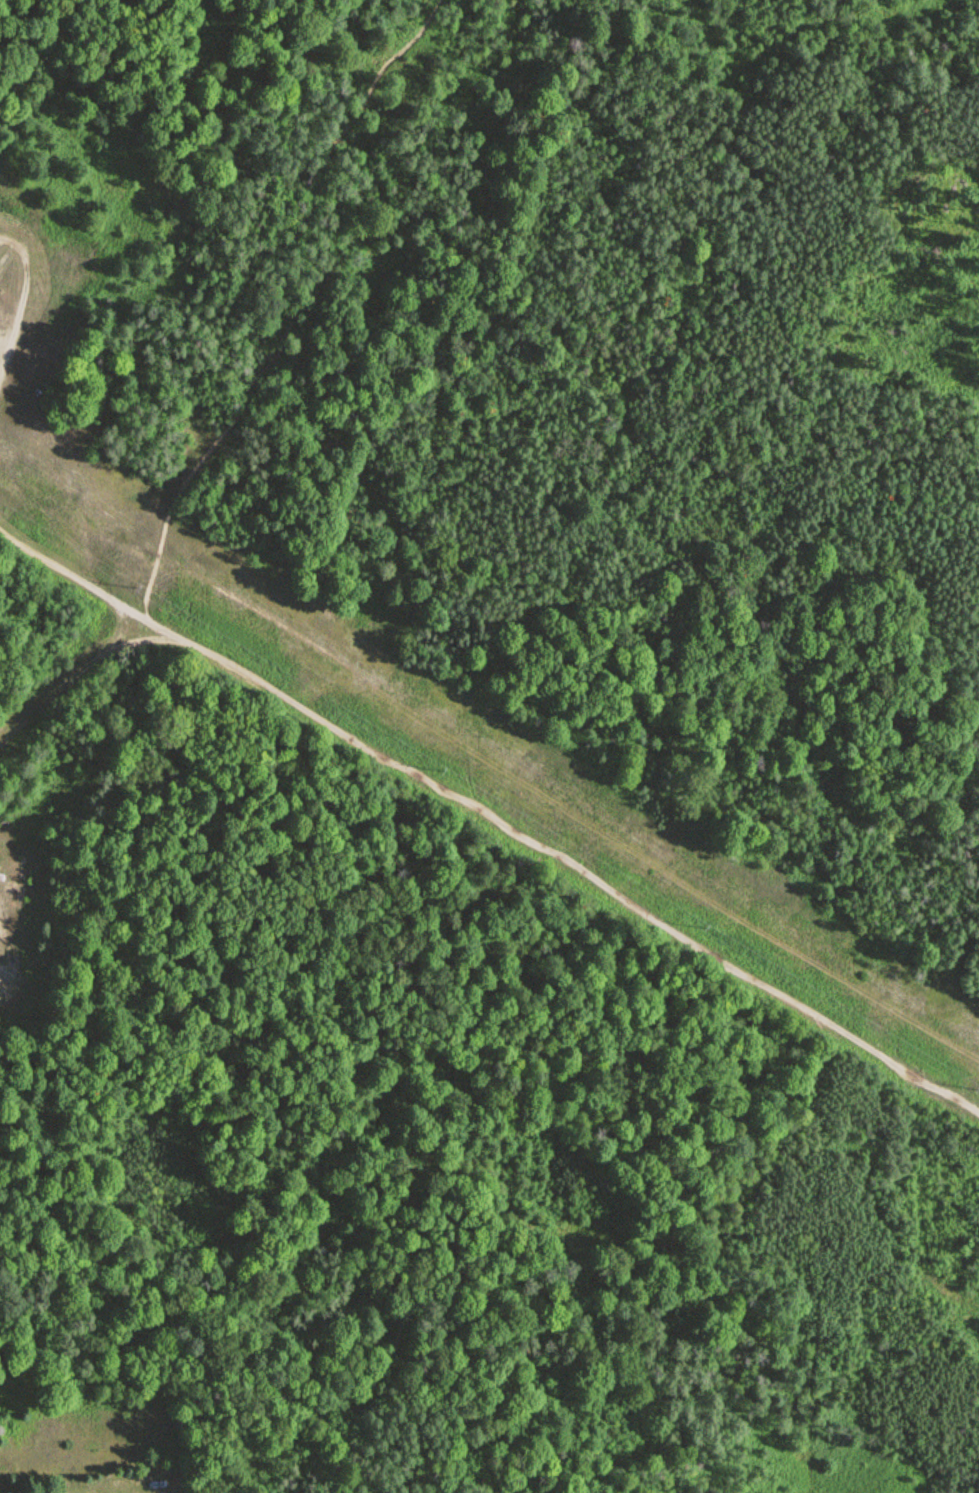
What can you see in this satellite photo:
road: (21, 298)
road: (58, 566)
road: (134, 612)
road: (144, 640)
road: (73, 677)
road: (255, 679)

